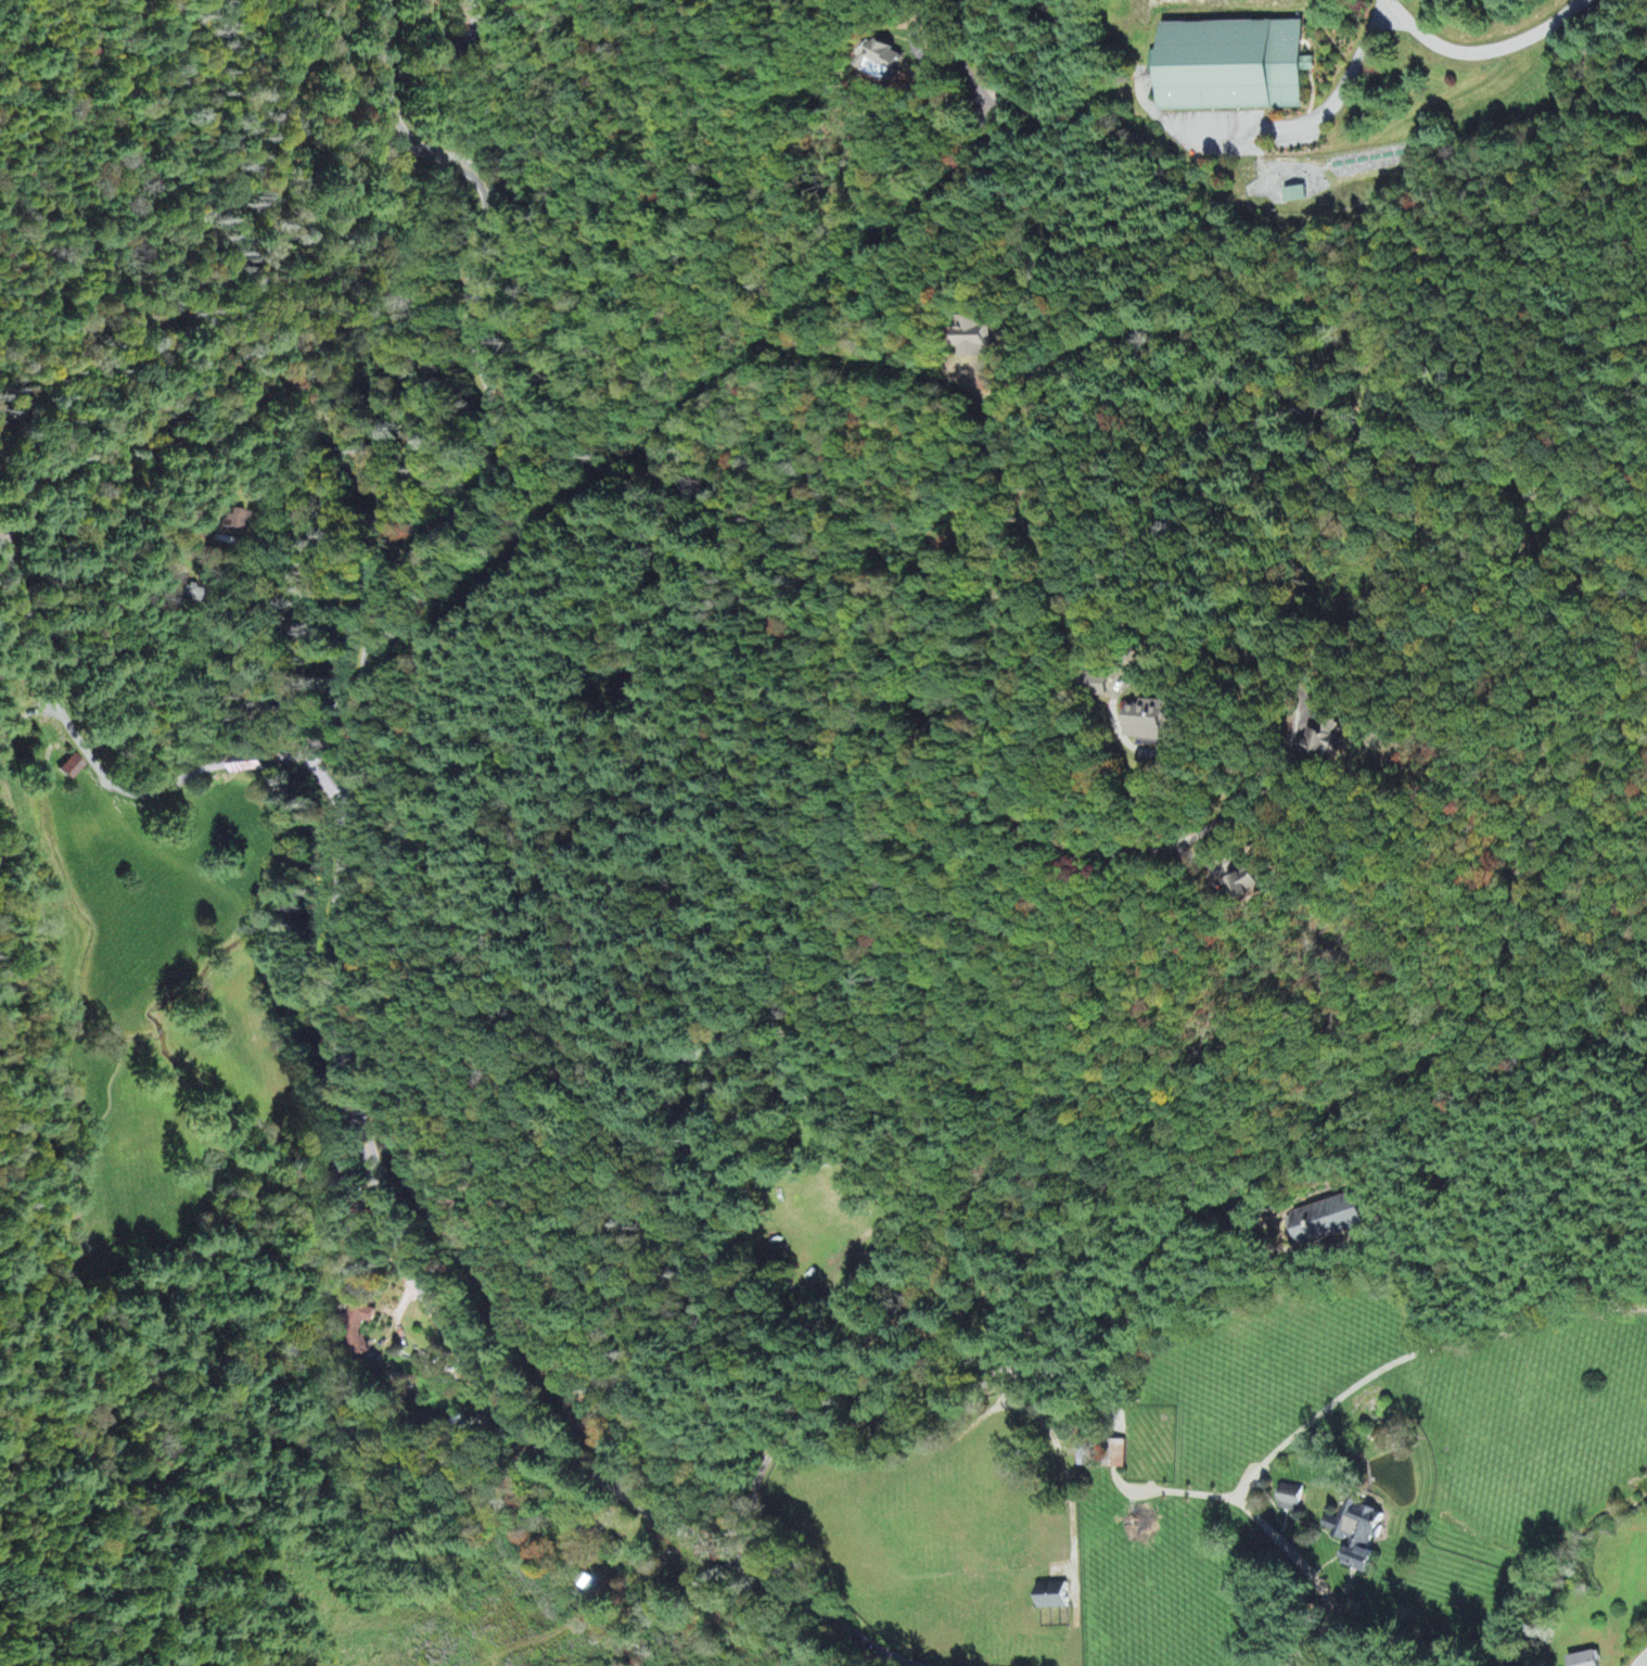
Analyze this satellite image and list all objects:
road: (457, 43)
road: (947, 48)
road: (1484, 50)
building: (882, 62)
building: (1229, 63)
building: (1292, 196)
building: (974, 339)
road: (142, 514)
building: (231, 522)
road: (1249, 683)
building: (1091, 686)
road: (1561, 721)
building: (1140, 723)
building: (1318, 746)
road: (111, 747)
building: (75, 768)
building: (1242, 885)
road: (336, 912)
road: (56, 966)
road: (1311, 1153)
building: (1331, 1220)
building: (358, 1330)
road: (1457, 1368)
road: (974, 1388)
building: (1286, 1499)
building: (1354, 1537)
road: (1327, 1586)
building: (1047, 1597)
building: (1581, 1659)
road: (1642, 1661)

